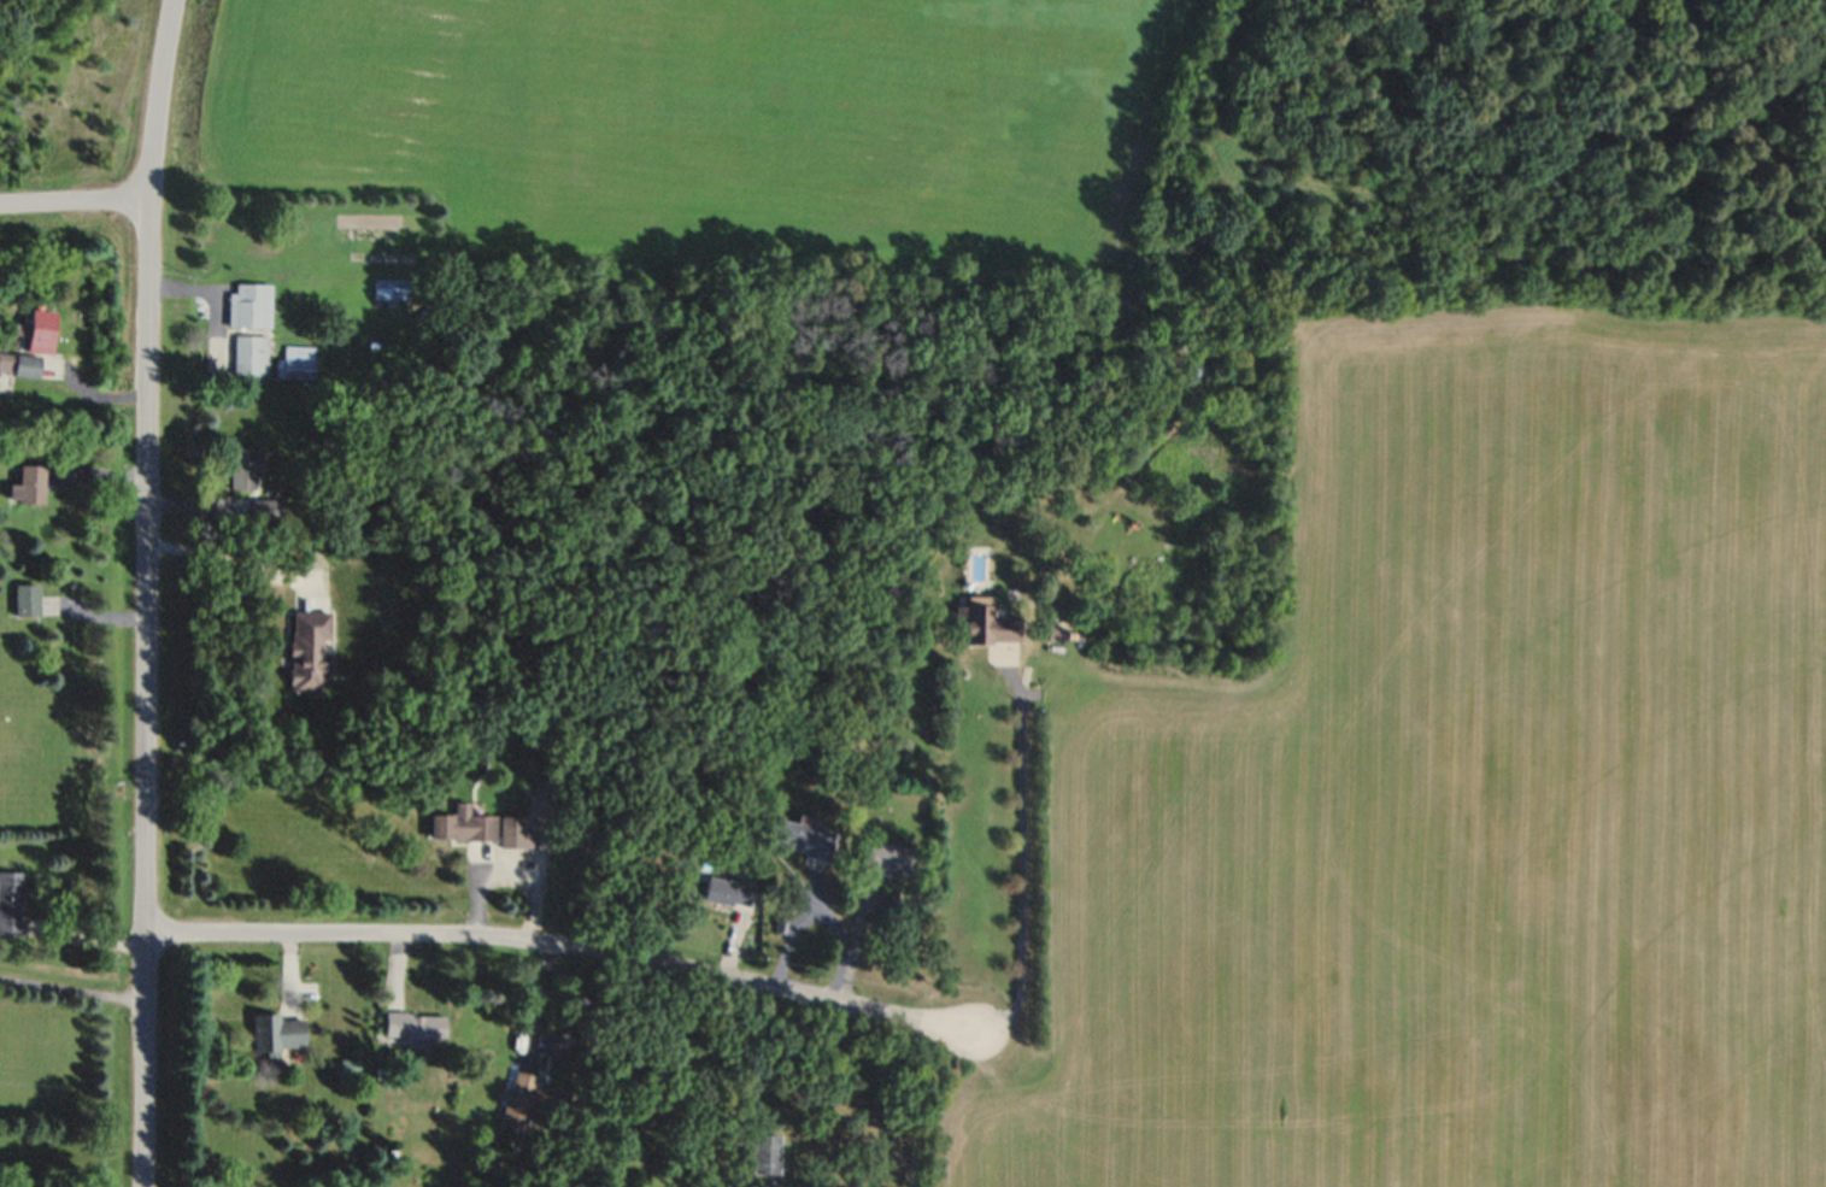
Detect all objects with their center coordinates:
road: (74, 212)
building: (392, 289)
building: (246, 306)
building: (39, 331)
building: (249, 355)
building: (16, 362)
building: (295, 362)
building: (246, 469)
building: (27, 486)
building: (268, 510)
road: (228, 560)
road: (145, 592)
building: (25, 600)
building: (982, 627)
building: (310, 650)
building: (462, 827)
building: (513, 833)
building: (802, 840)
road: (1021, 851)
building: (882, 858)
building: (727, 894)
building: (11, 903)
road: (853, 938)
road: (562, 952)
road: (71, 989)
building: (413, 1027)
building: (275, 1035)
building: (557, 1046)
building: (528, 1099)
road: (914, 1103)
building: (762, 1157)

